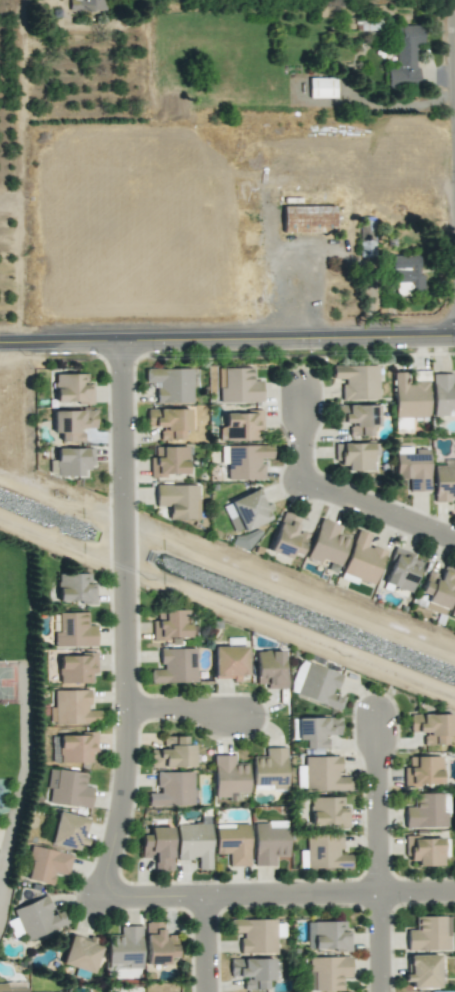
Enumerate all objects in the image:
building: (86, 5)
road: (454, 20)
building: (404, 57)
building: (322, 87)
crop: (116, 166)
building: (308, 219)
building: (366, 237)
road: (322, 248)
building: (406, 273)
road: (227, 340)
building: (357, 381)
building: (170, 384)
building: (237, 386)
building: (72, 389)
building: (410, 395)
building: (442, 395)
building: (357, 418)
building: (168, 422)
building: (72, 423)
building: (240, 426)
road: (306, 433)
building: (353, 456)
building: (168, 461)
building: (244, 461)
building: (71, 462)
building: (413, 469)
building: (444, 482)
building: (178, 500)
road: (381, 508)
building: (247, 511)
building: (287, 537)
building: (327, 545)
building: (363, 559)
building: (401, 570)
building: (75, 588)
building: (439, 589)
building: (453, 610)
road: (130, 619)
building: (72, 630)
building: (229, 662)
building: (175, 666)
building: (76, 668)
building: (270, 668)
building: (318, 685)
road: (193, 704)
building: (72, 708)
building: (431, 727)
building: (316, 730)
building: (76, 747)
building: (172, 753)
building: (269, 769)
building: (422, 771)
building: (323, 774)
building: (228, 776)
building: (67, 788)
building: (172, 790)
road: (381, 804)
building: (427, 811)
building: (327, 812)
building: (68, 830)
building: (232, 843)
building: (268, 843)
building: (194, 844)
building: (157, 847)
building: (424, 851)
building: (325, 852)
building: (46, 864)
road: (276, 891)
building: (35, 919)
building: (429, 934)
building: (255, 935)
building: (326, 936)
road: (381, 941)
road: (208, 942)
building: (158, 944)
building: (125, 949)
building: (80, 954)
building: (423, 971)
building: (252, 972)
building: (326, 973)

